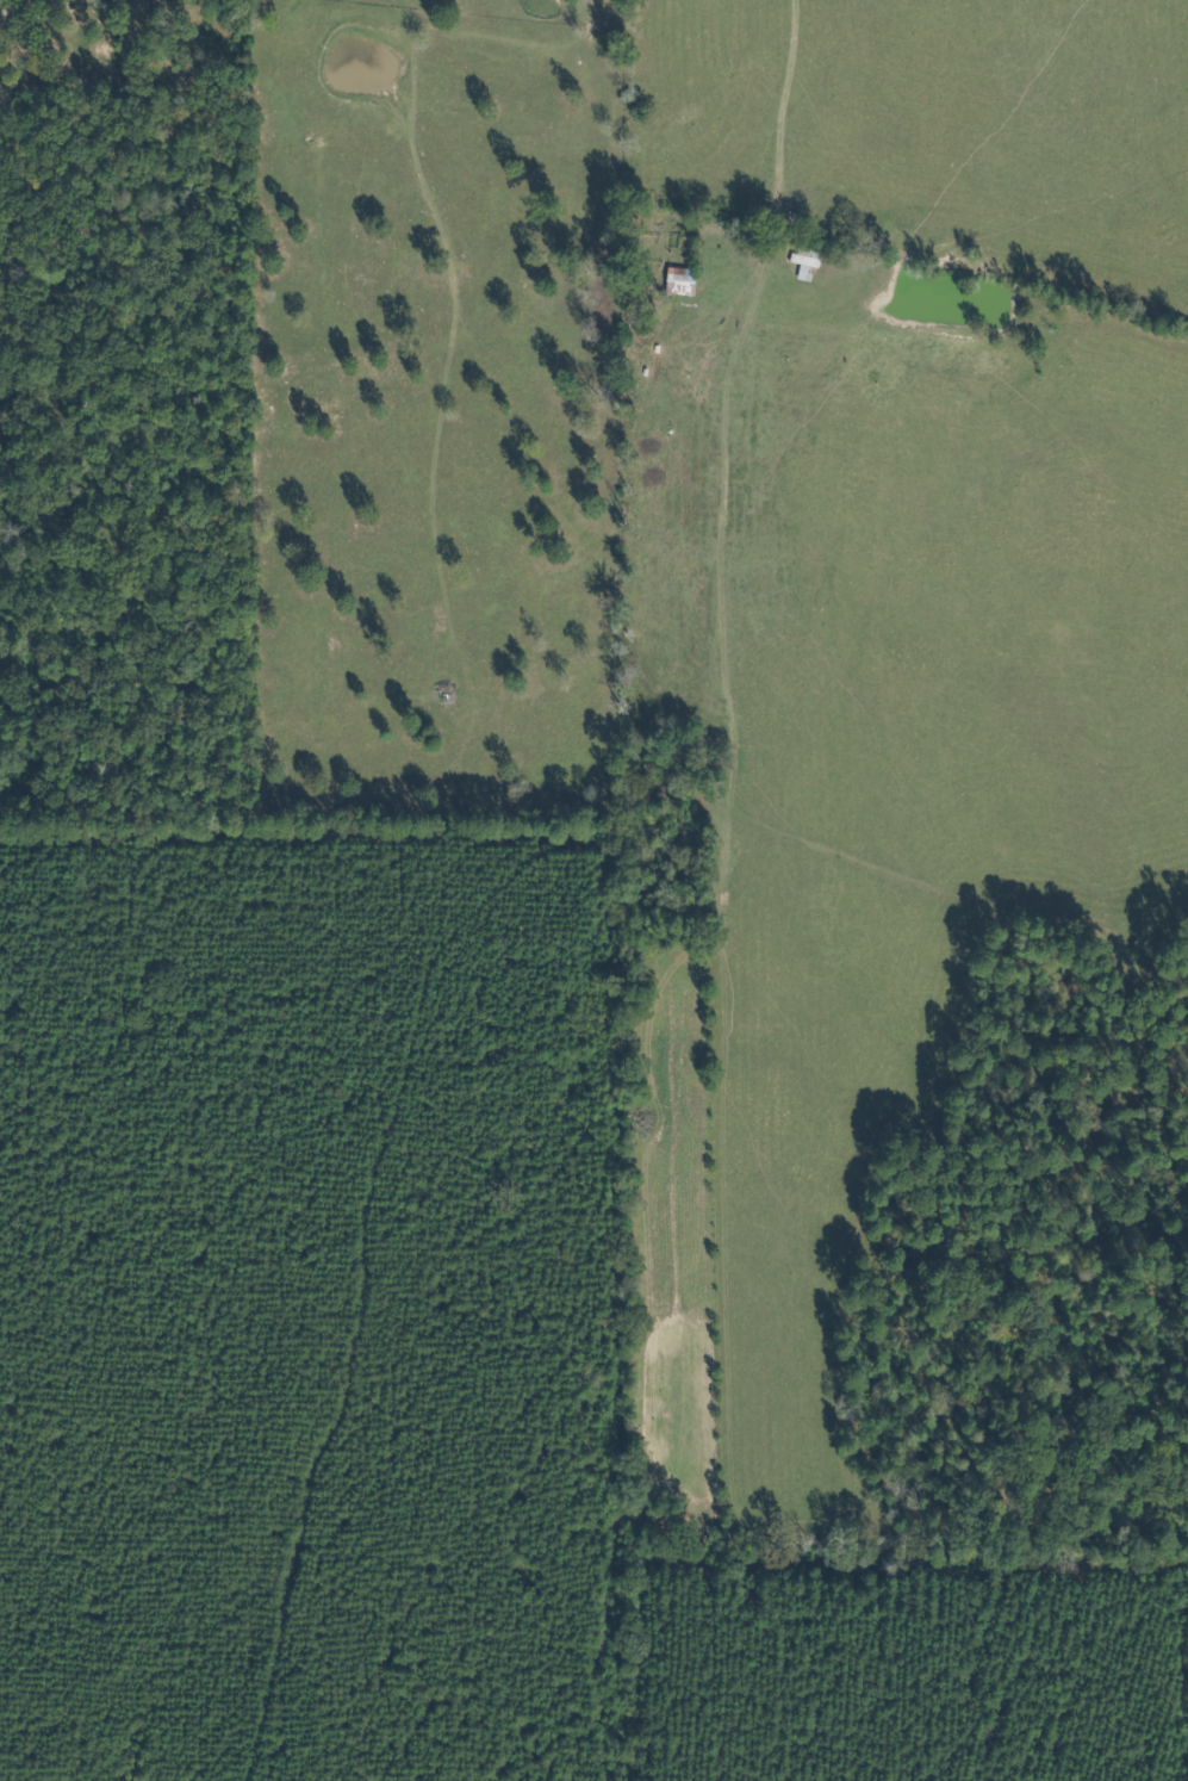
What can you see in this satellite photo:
building: (684, 281)

